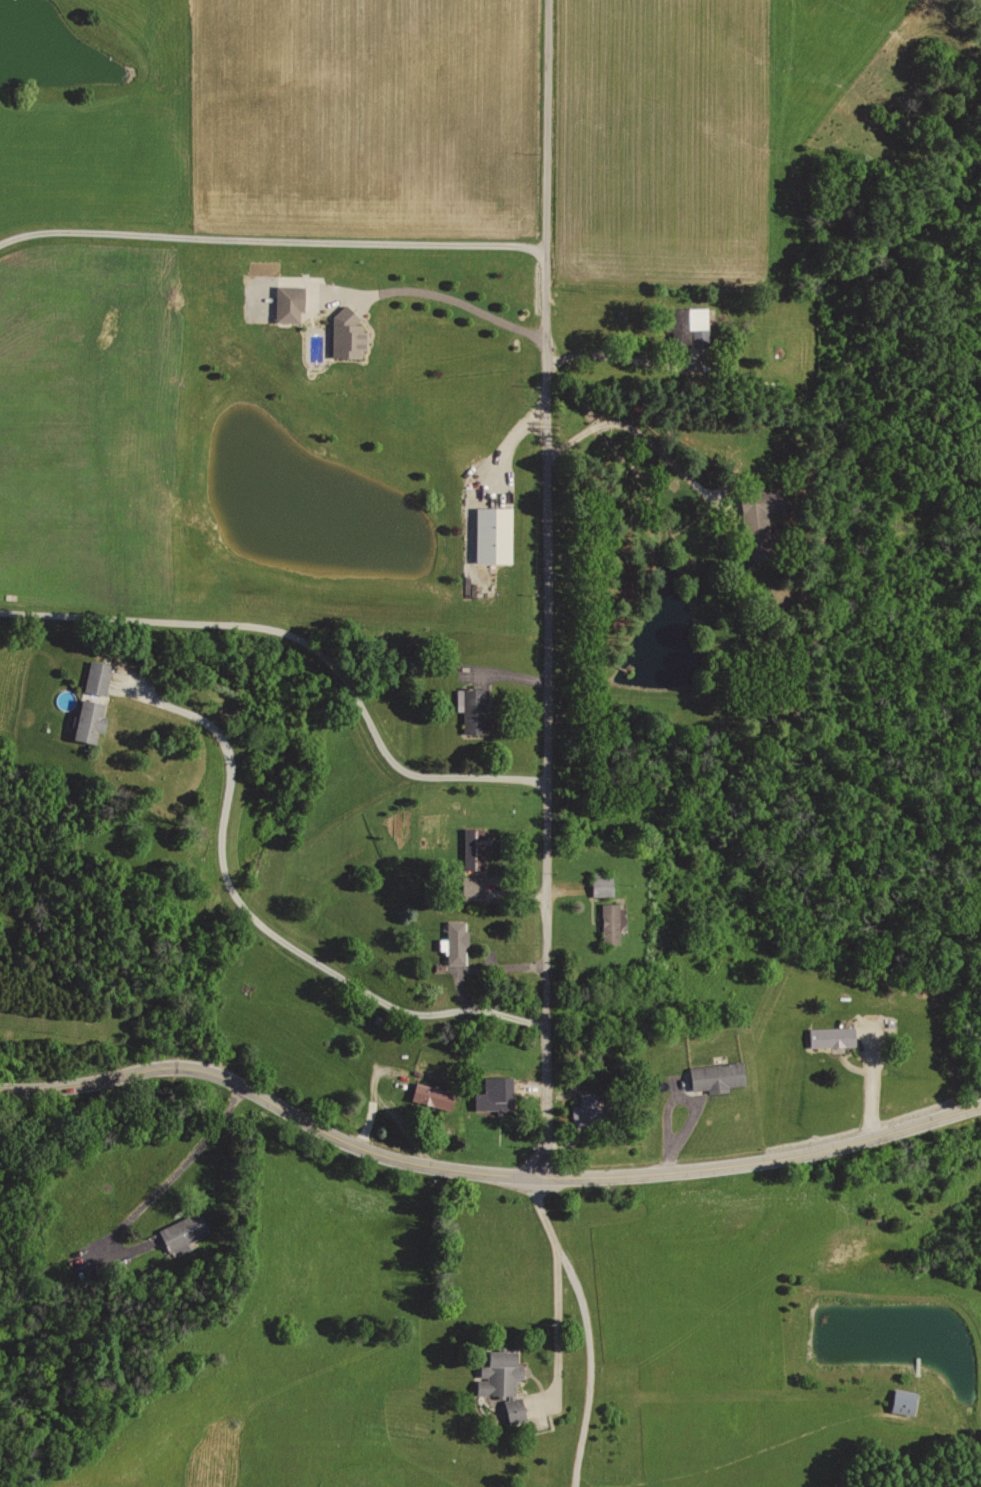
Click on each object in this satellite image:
road: (271, 237)
road: (441, 293)
building: (289, 304)
building: (686, 329)
building: (342, 332)
road: (626, 354)
road: (647, 435)
road: (496, 464)
building: (758, 523)
building: (492, 532)
road: (546, 587)
road: (304, 638)
road: (506, 679)
building: (92, 700)
building: (473, 710)
building: (475, 846)
building: (601, 884)
building: (470, 888)
road: (260, 922)
building: (610, 923)
building: (456, 942)
road: (479, 967)
building: (829, 1036)
building: (716, 1076)
building: (490, 1089)
road: (366, 1092)
building: (430, 1094)
road: (679, 1100)
building: (585, 1102)
road: (482, 1171)
road: (155, 1184)
building: (182, 1234)
road: (591, 1325)
road: (557, 1329)
building: (506, 1379)
building: (900, 1401)

